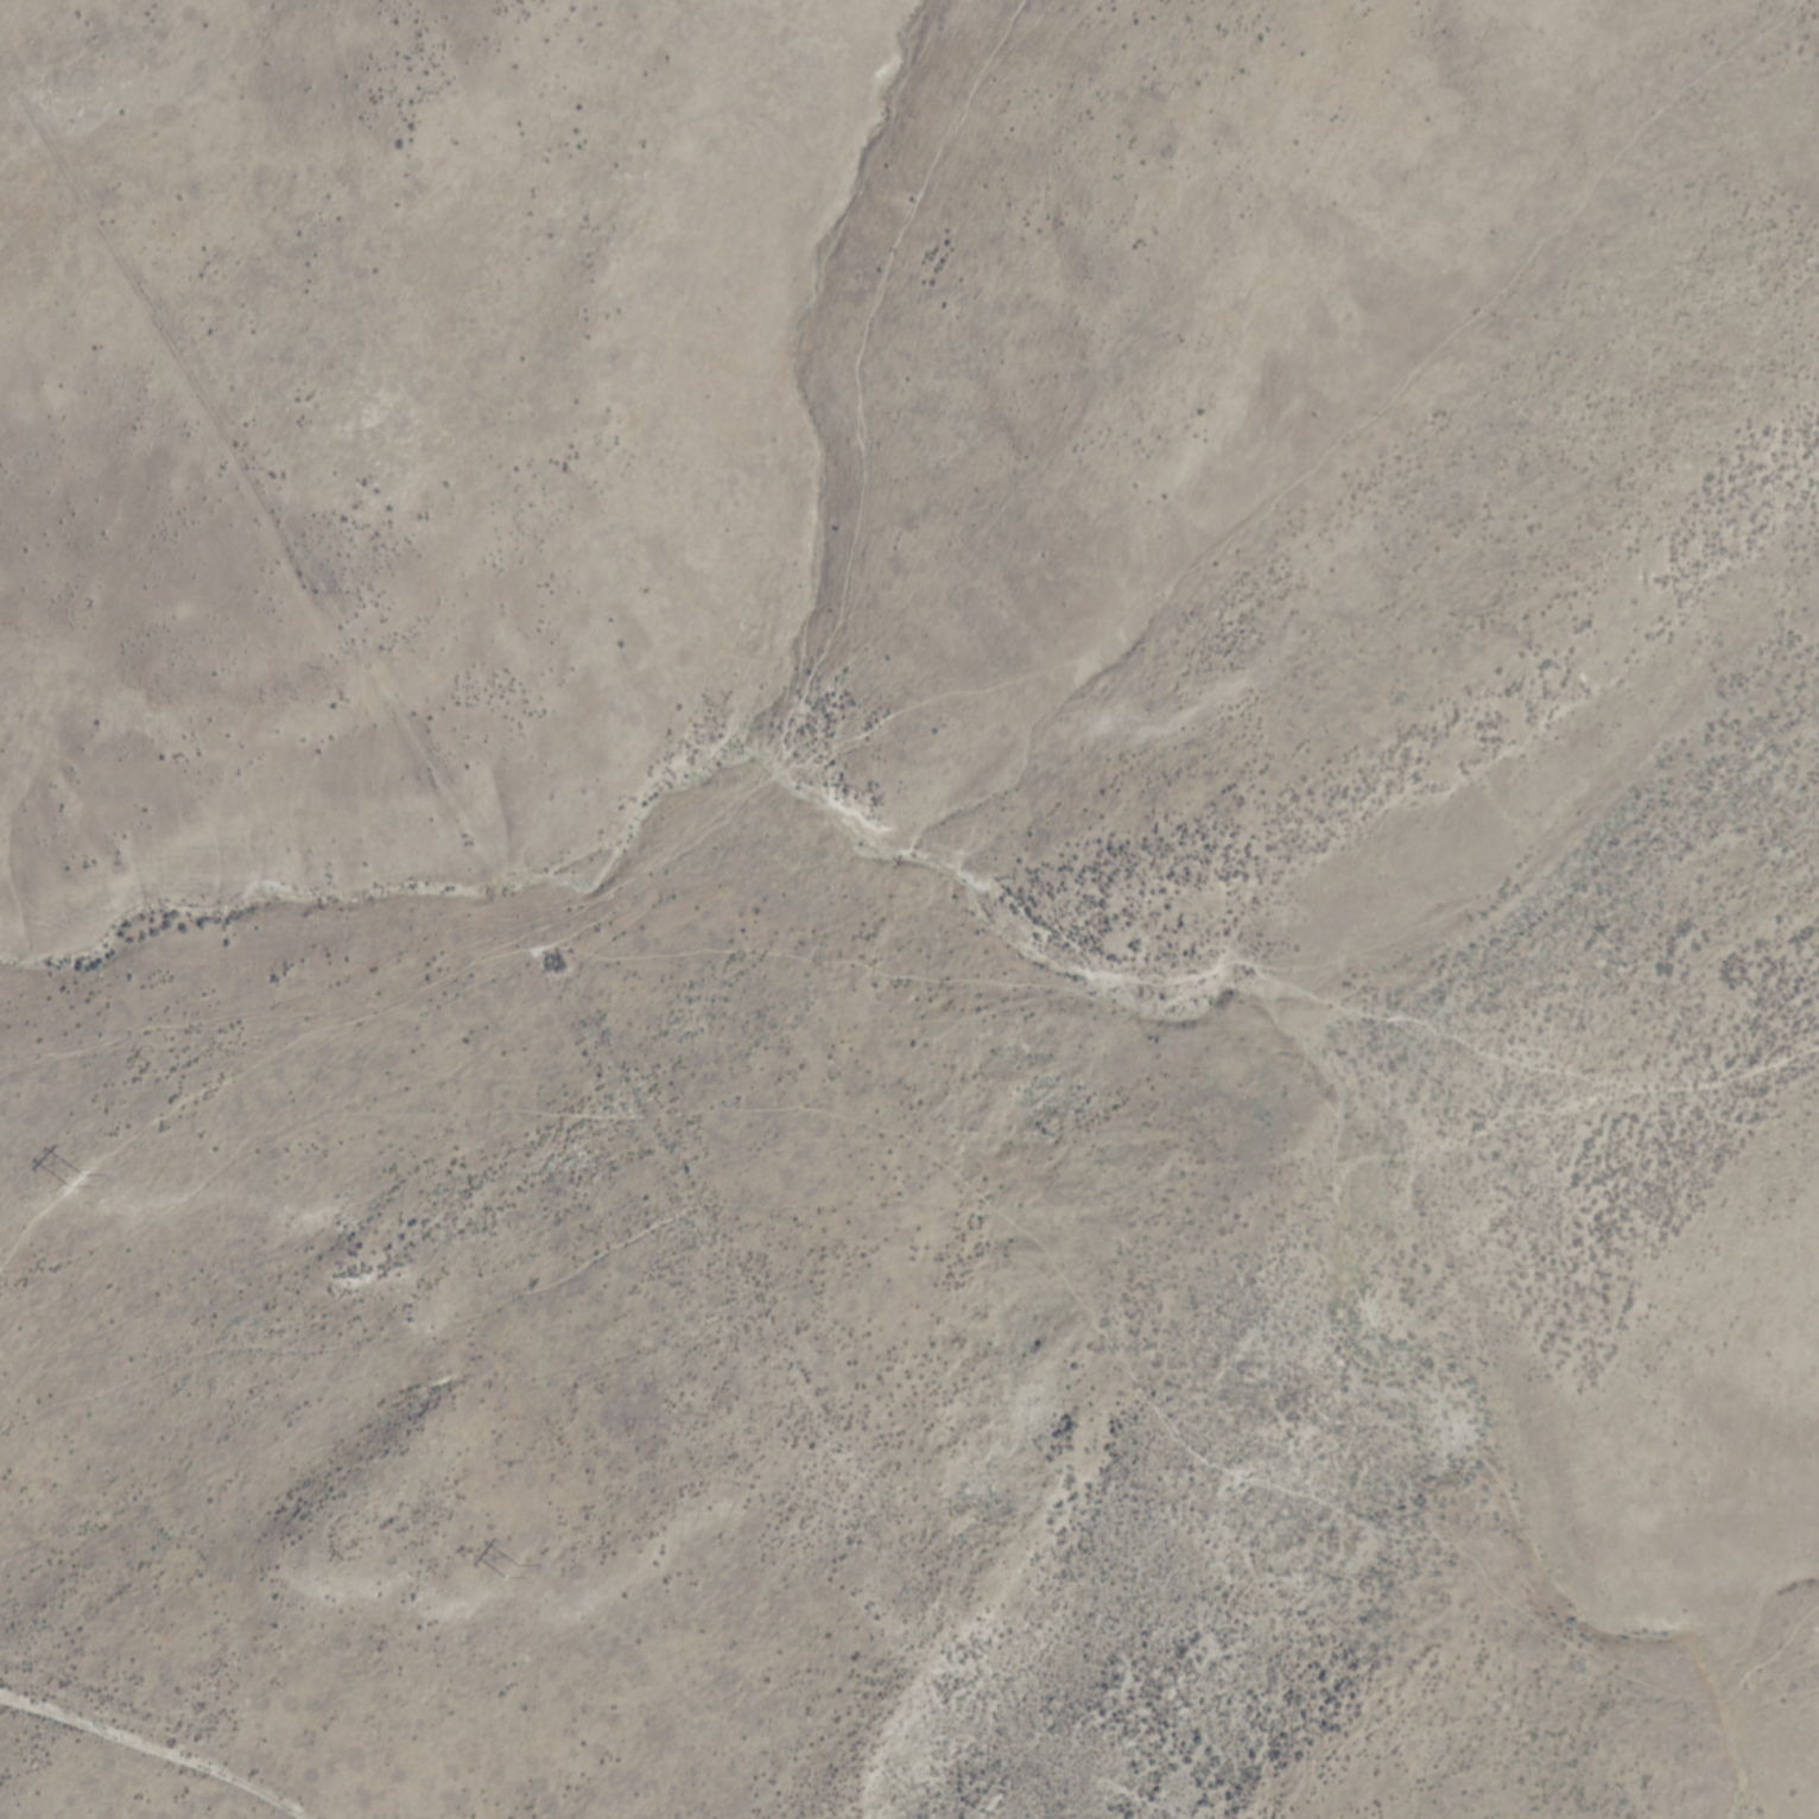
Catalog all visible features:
power tower: (71, 1178)
power tower: (512, 1572)
road: (150, 1744)

